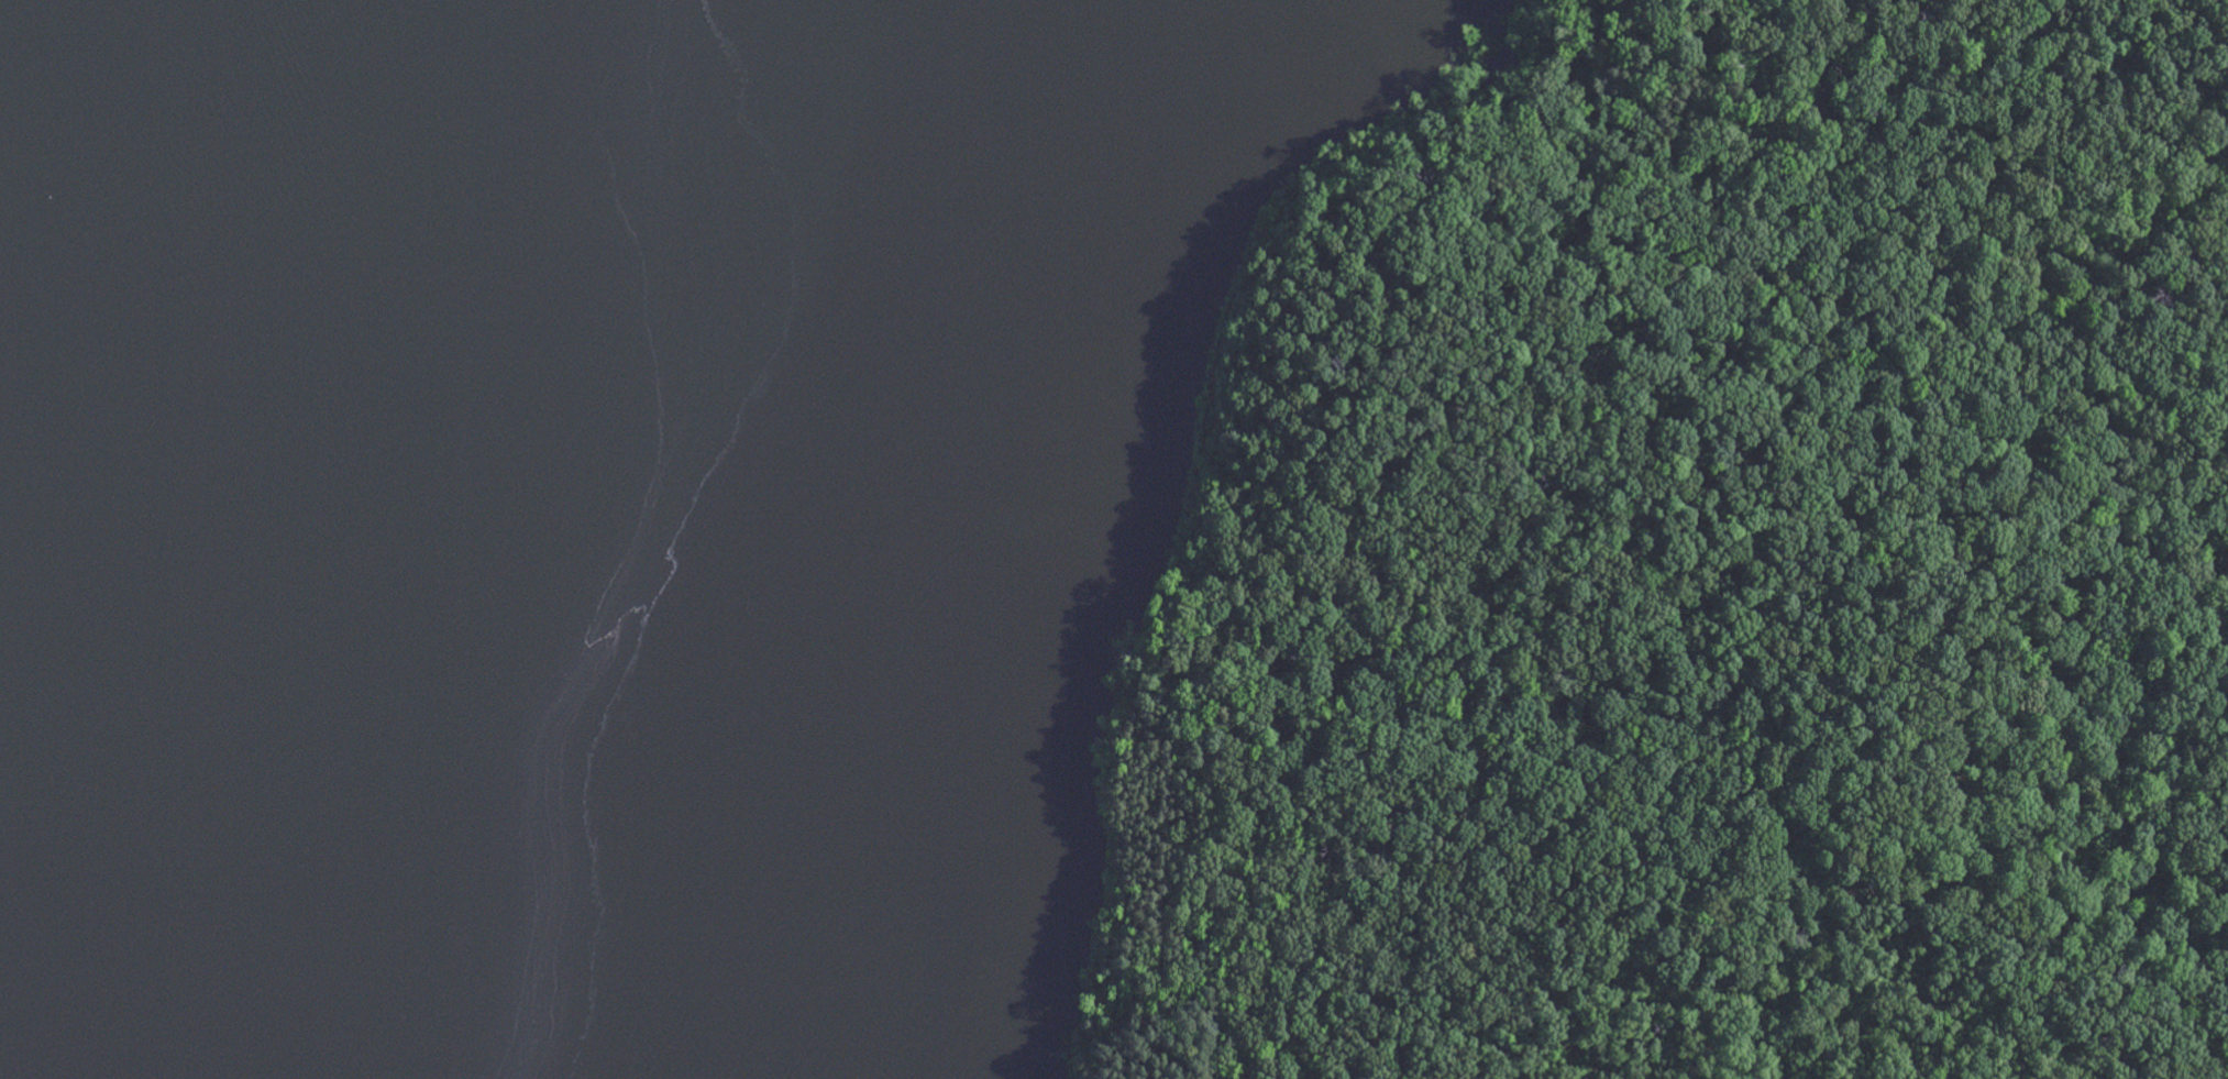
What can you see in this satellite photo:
river: (199, 537)

